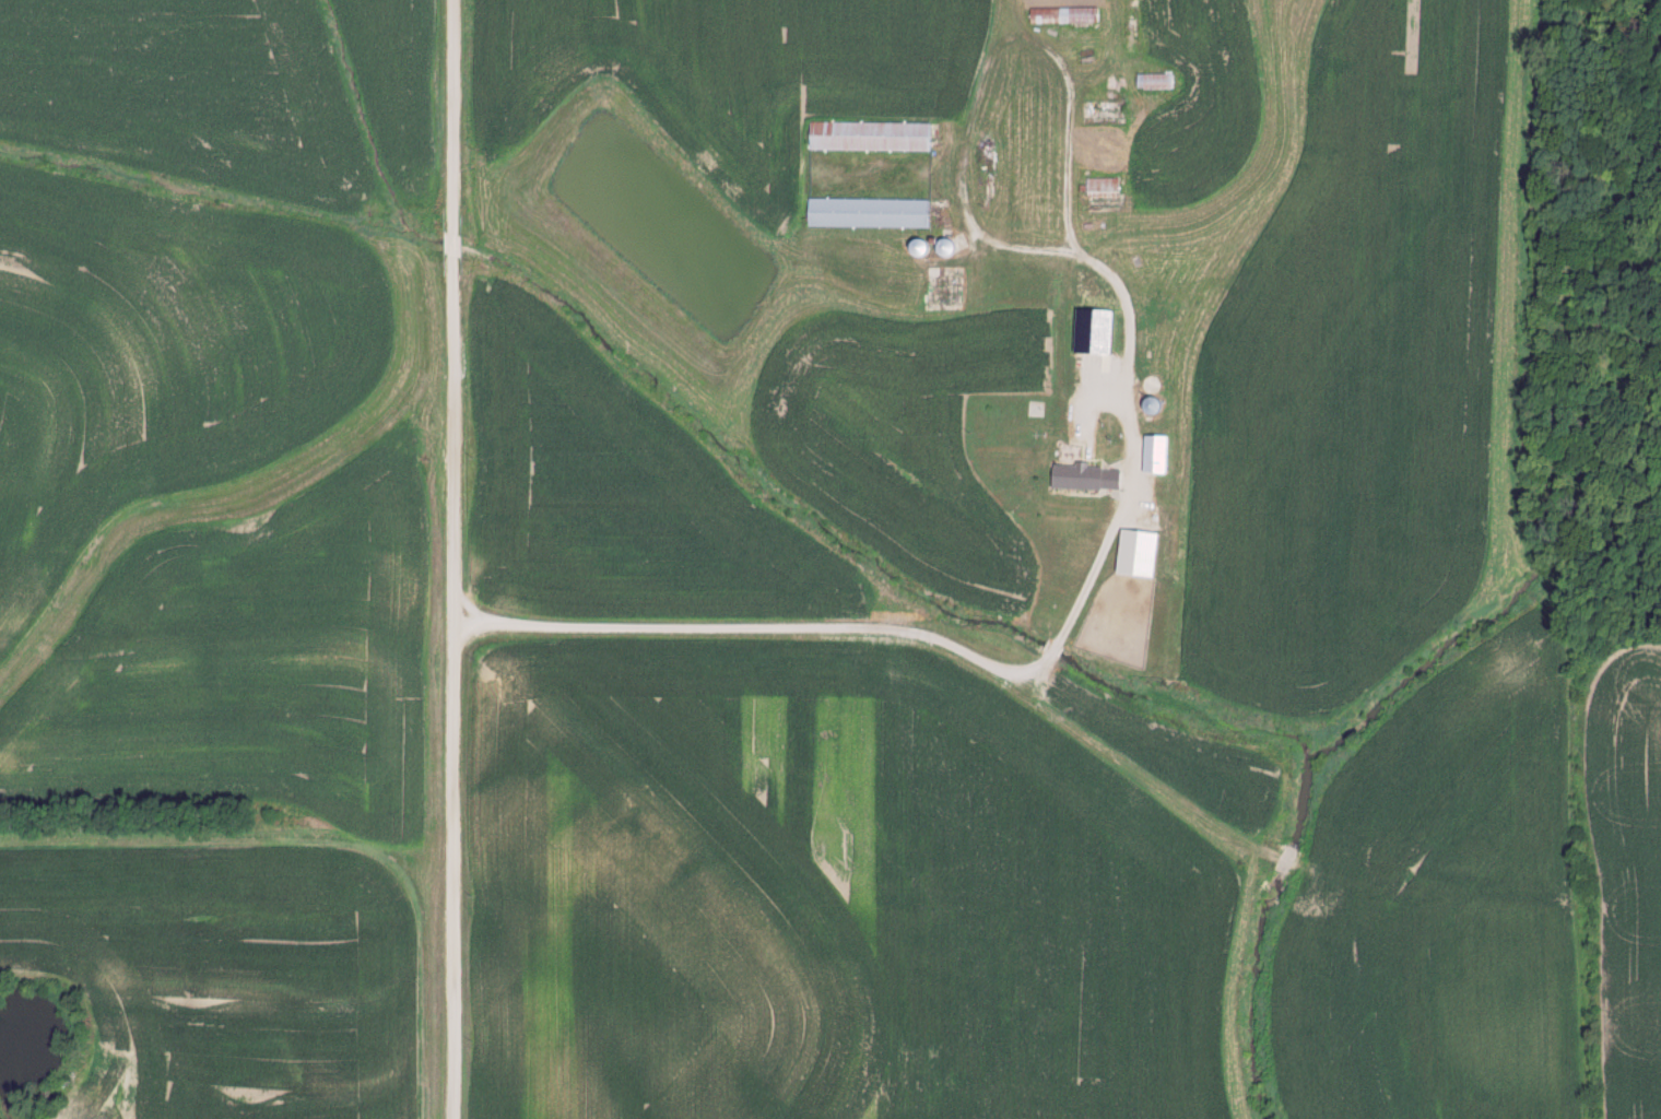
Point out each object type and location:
building: (1059, 15)
building: (1151, 81)
building: (867, 137)
building: (1099, 187)
building: (865, 212)
building: (1085, 328)
building: (1146, 385)
building: (1146, 407)
building: (1151, 455)
building: (1084, 478)
building: (1132, 547)
road: (444, 558)
road: (891, 644)
road: (1413, 880)

